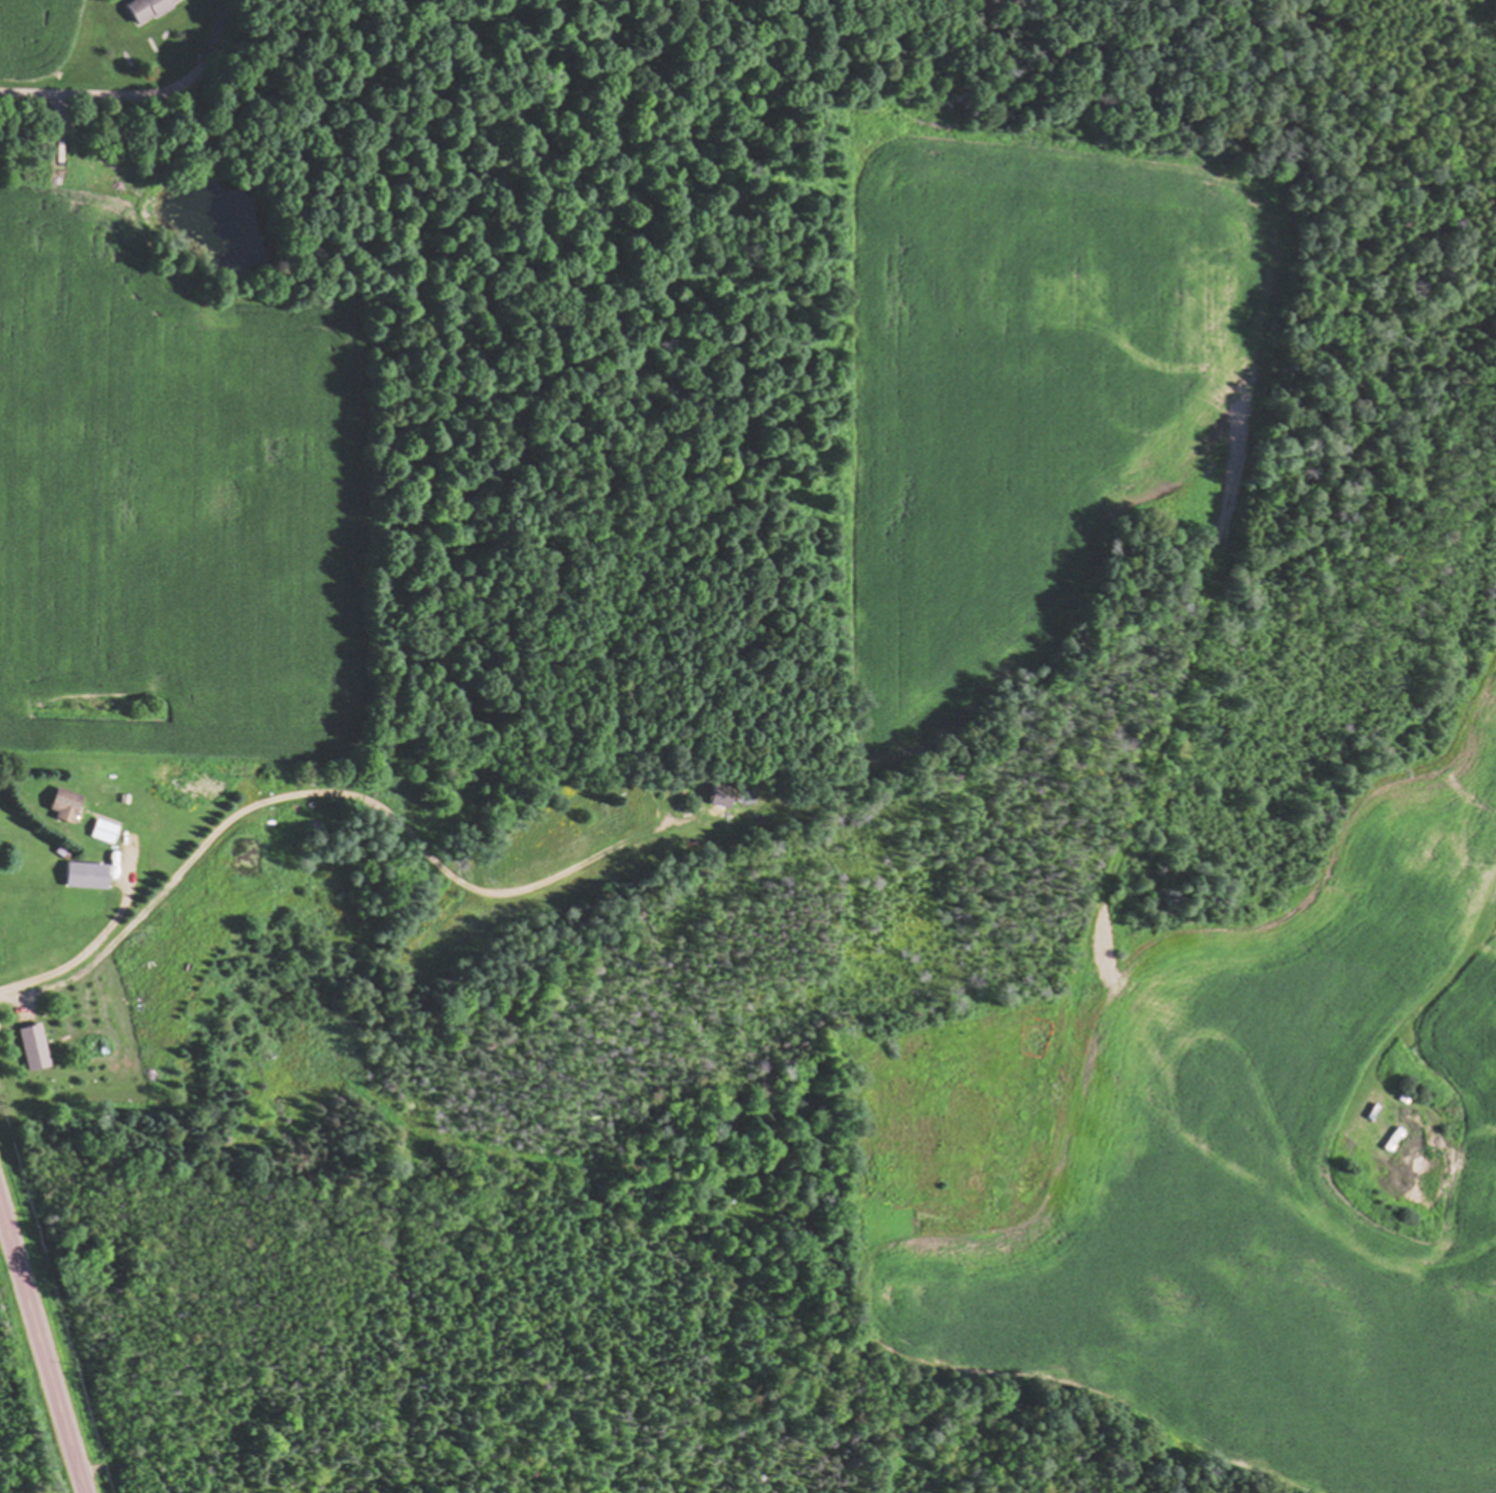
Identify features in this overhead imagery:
building: (152, 9)
building: (723, 798)
building: (743, 799)
building: (71, 808)
building: (107, 833)
building: (89, 879)
building: (37, 1047)
road: (42, 1346)

